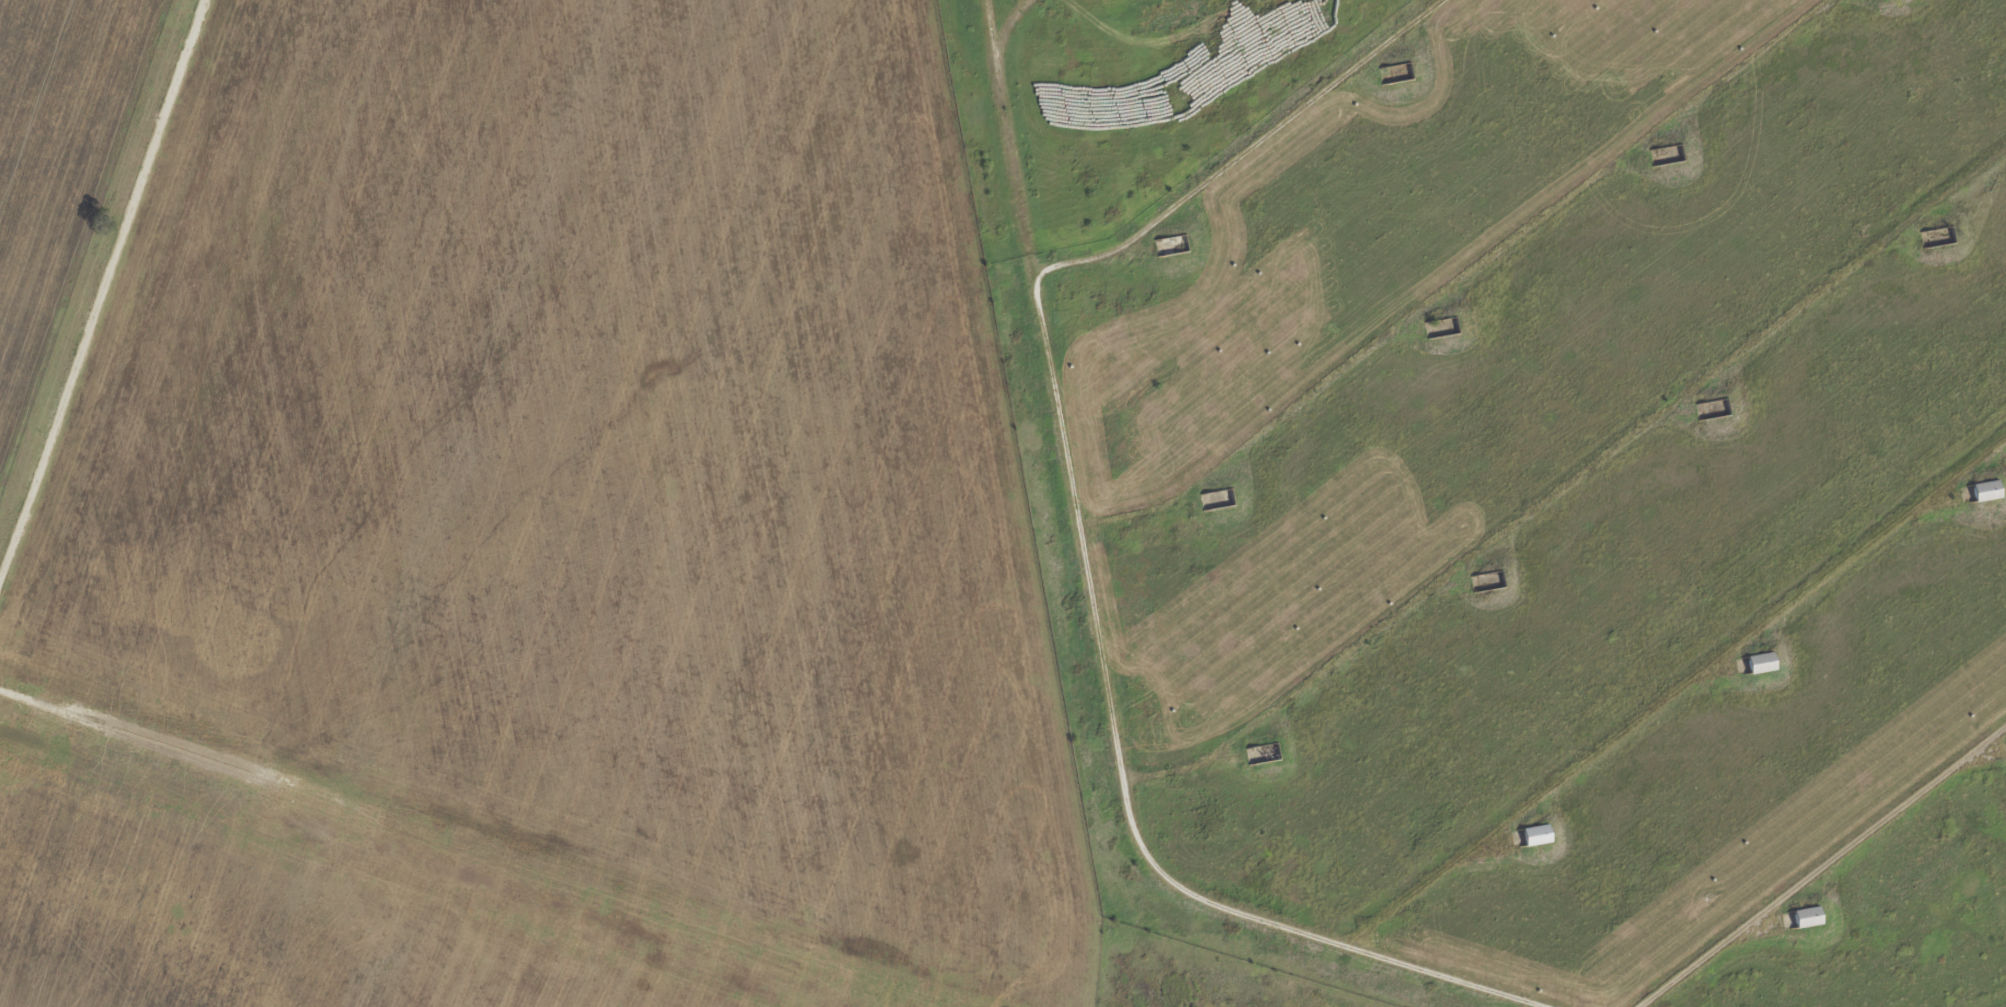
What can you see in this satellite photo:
road: (1023, 26)
road: (1246, 147)
road: (1462, 274)
road: (109, 309)
building: (1439, 327)
road: (1571, 474)
building: (1984, 489)
road: (1098, 644)
building: (1760, 662)
road: (1676, 691)
building: (1535, 834)
road: (1823, 866)
building: (1805, 916)

